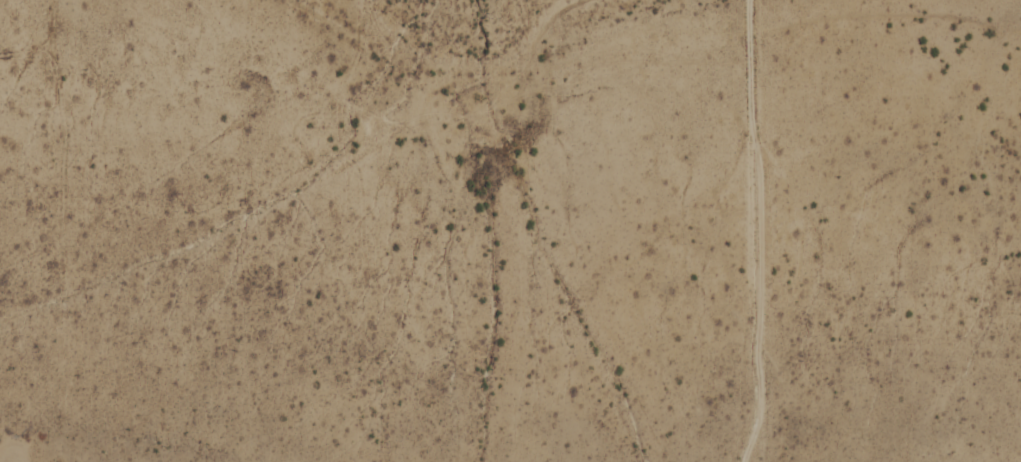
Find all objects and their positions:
road: (755, 231)

